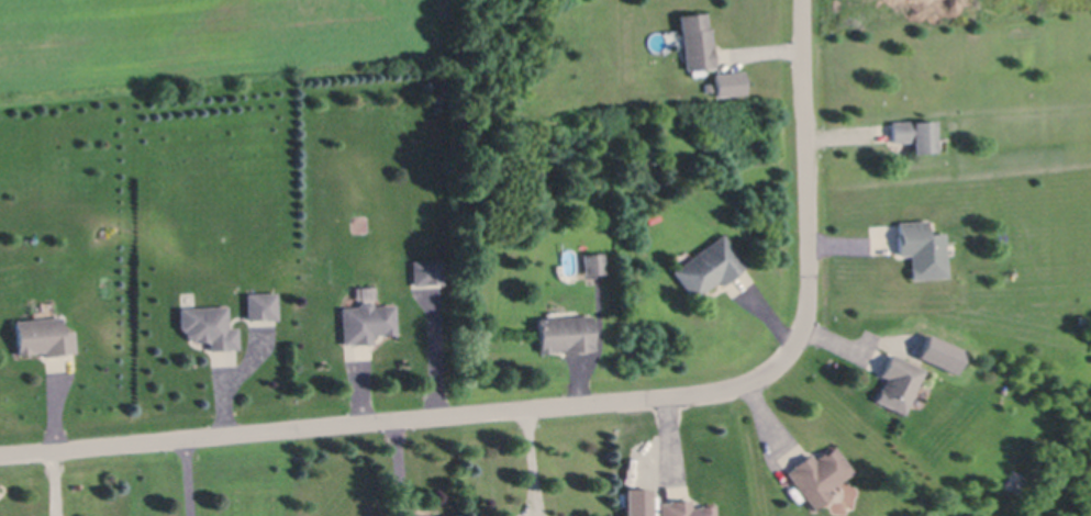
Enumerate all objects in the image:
building: (698, 40)
crop: (211, 41)
building: (725, 83)
building: (915, 132)
building: (487, 181)
building: (923, 248)
building: (594, 262)
building: (710, 266)
building: (428, 269)
building: (261, 304)
building: (365, 321)
building: (209, 325)
building: (566, 333)
building: (46, 335)
building: (936, 354)
road: (435, 355)
building: (929, 364)
building: (898, 379)
road: (576, 402)
road: (400, 467)
building: (820, 472)
road: (194, 476)
road: (56, 482)
building: (633, 502)
building: (686, 507)

